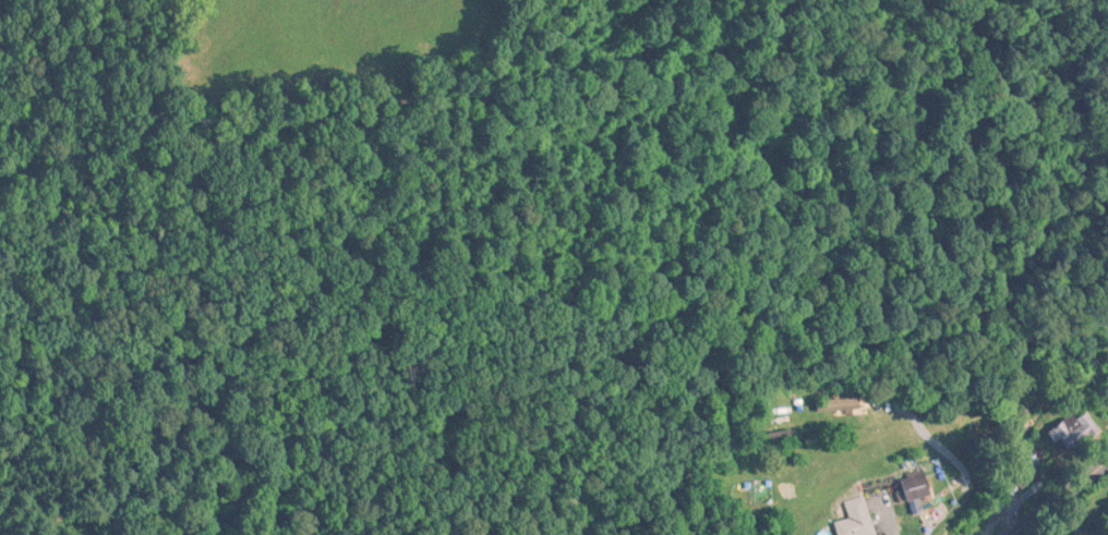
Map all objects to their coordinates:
building: (839, 406)
building: (1070, 433)
building: (780, 440)
building: (913, 478)
road: (1047, 490)
building: (855, 520)

